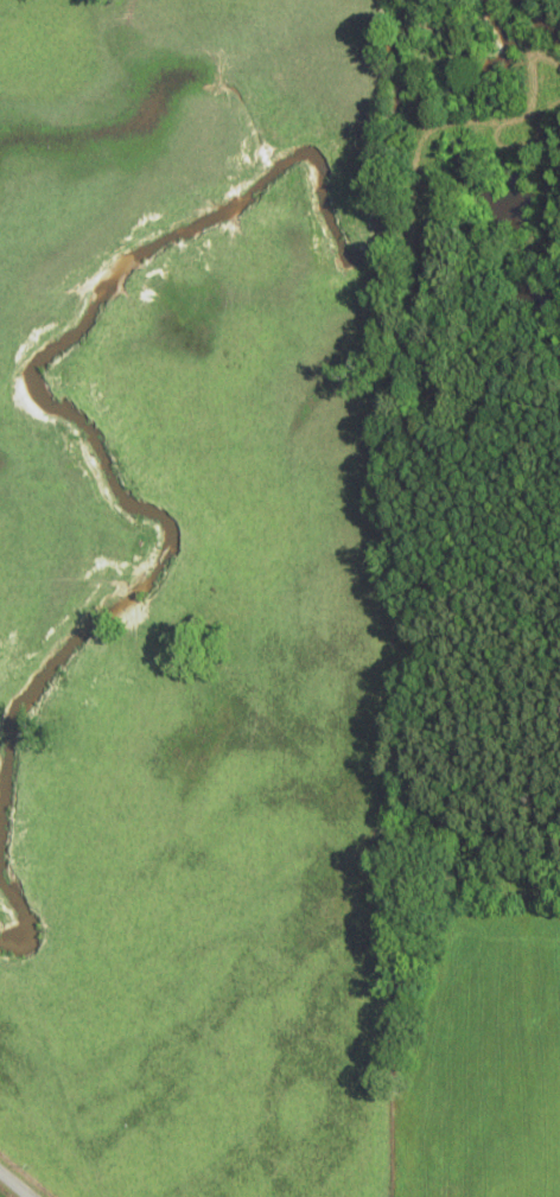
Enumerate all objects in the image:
road: (14, 1184)

